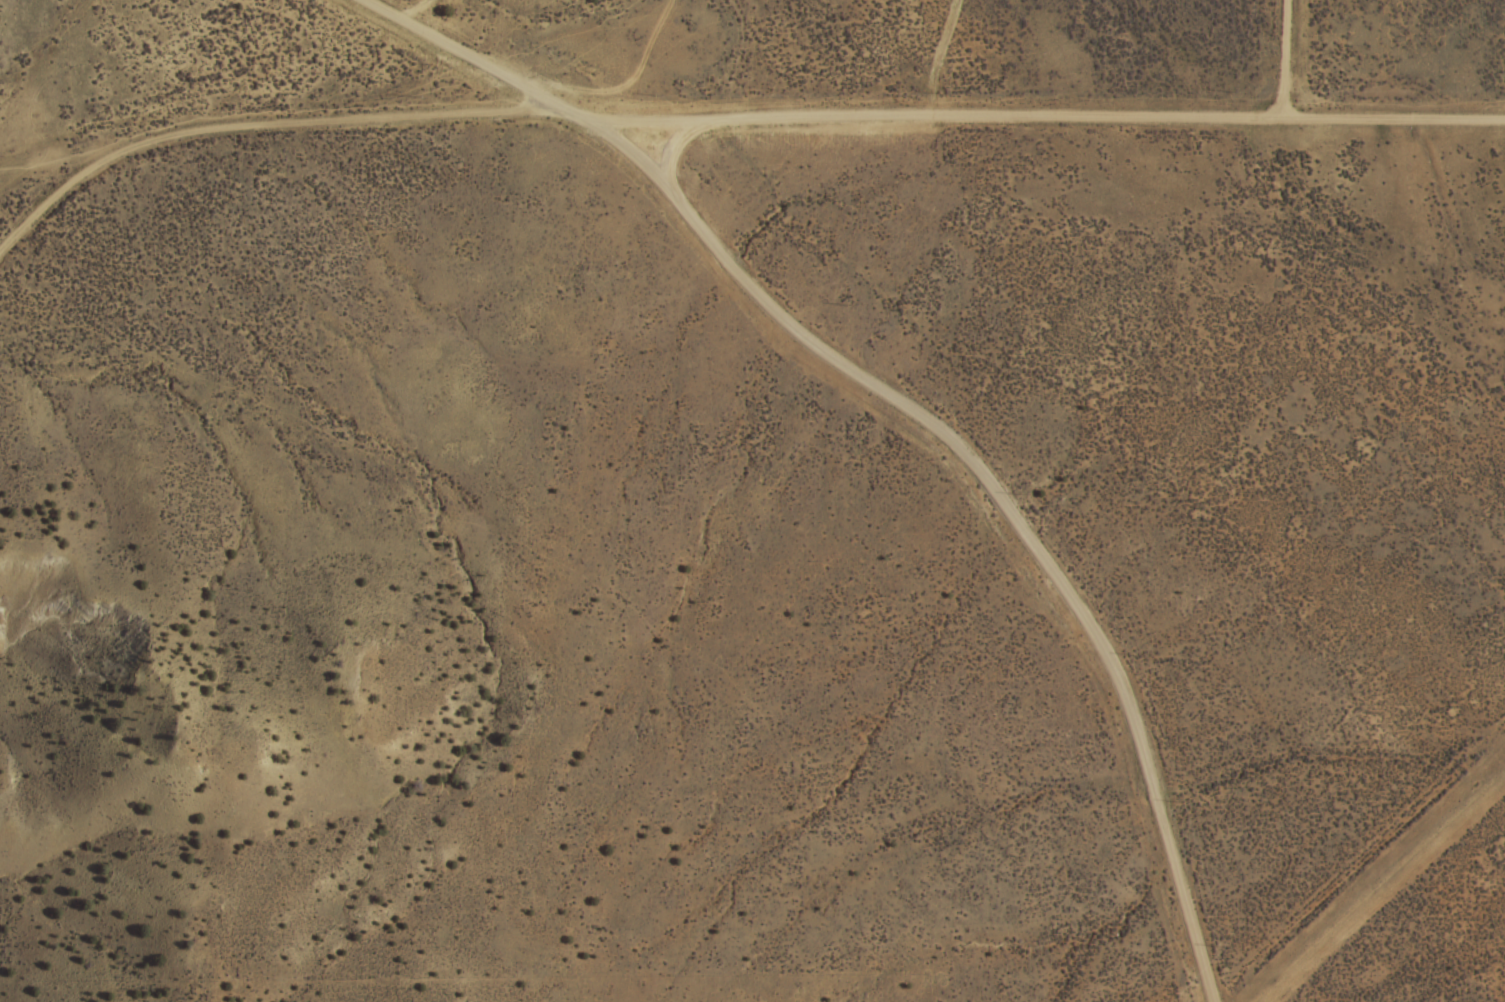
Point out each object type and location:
road: (1040, 115)
road: (904, 408)
road: (1391, 892)

